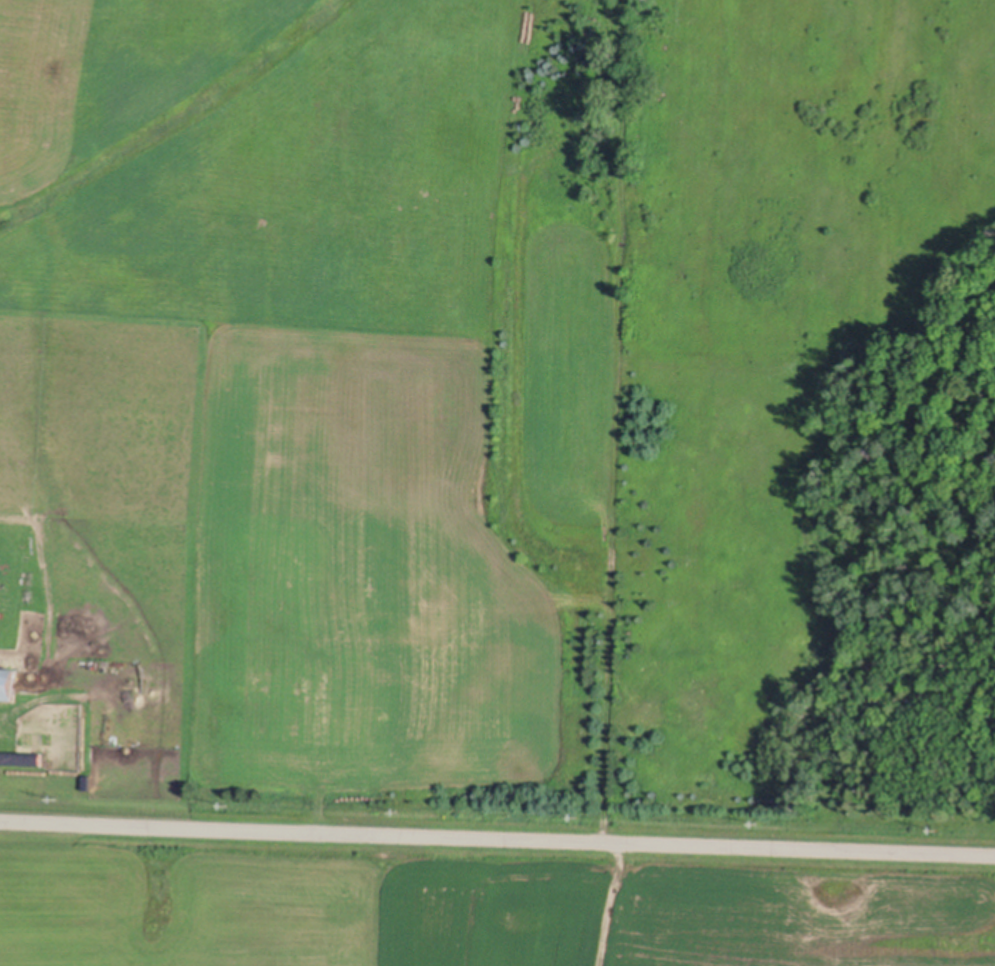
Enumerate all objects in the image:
building: (9, 678)
building: (20, 756)
road: (497, 834)

